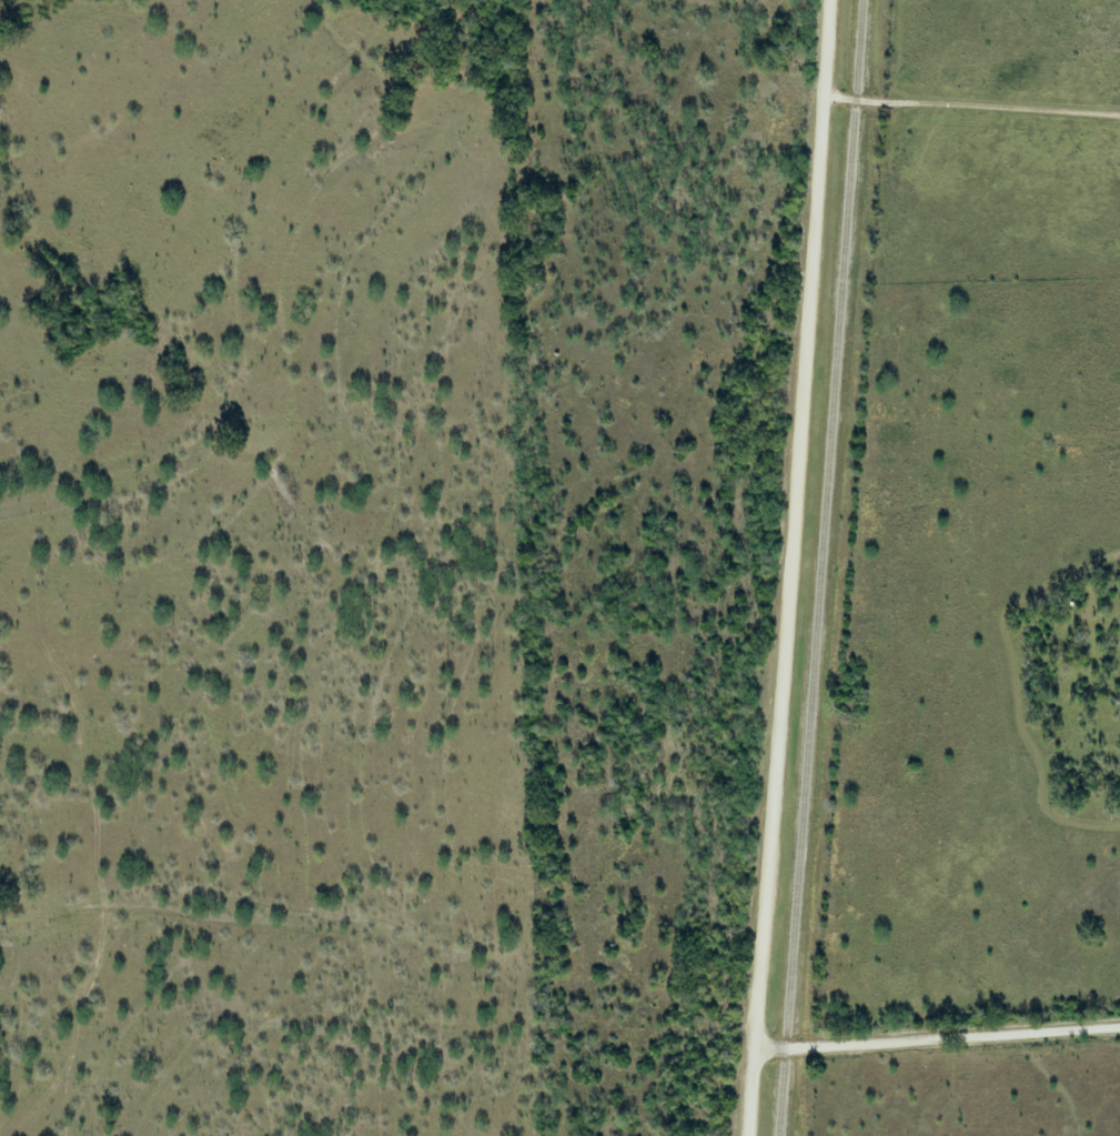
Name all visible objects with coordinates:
road: (971, 108)
road: (785, 567)
railway: (824, 567)
road: (937, 1041)

